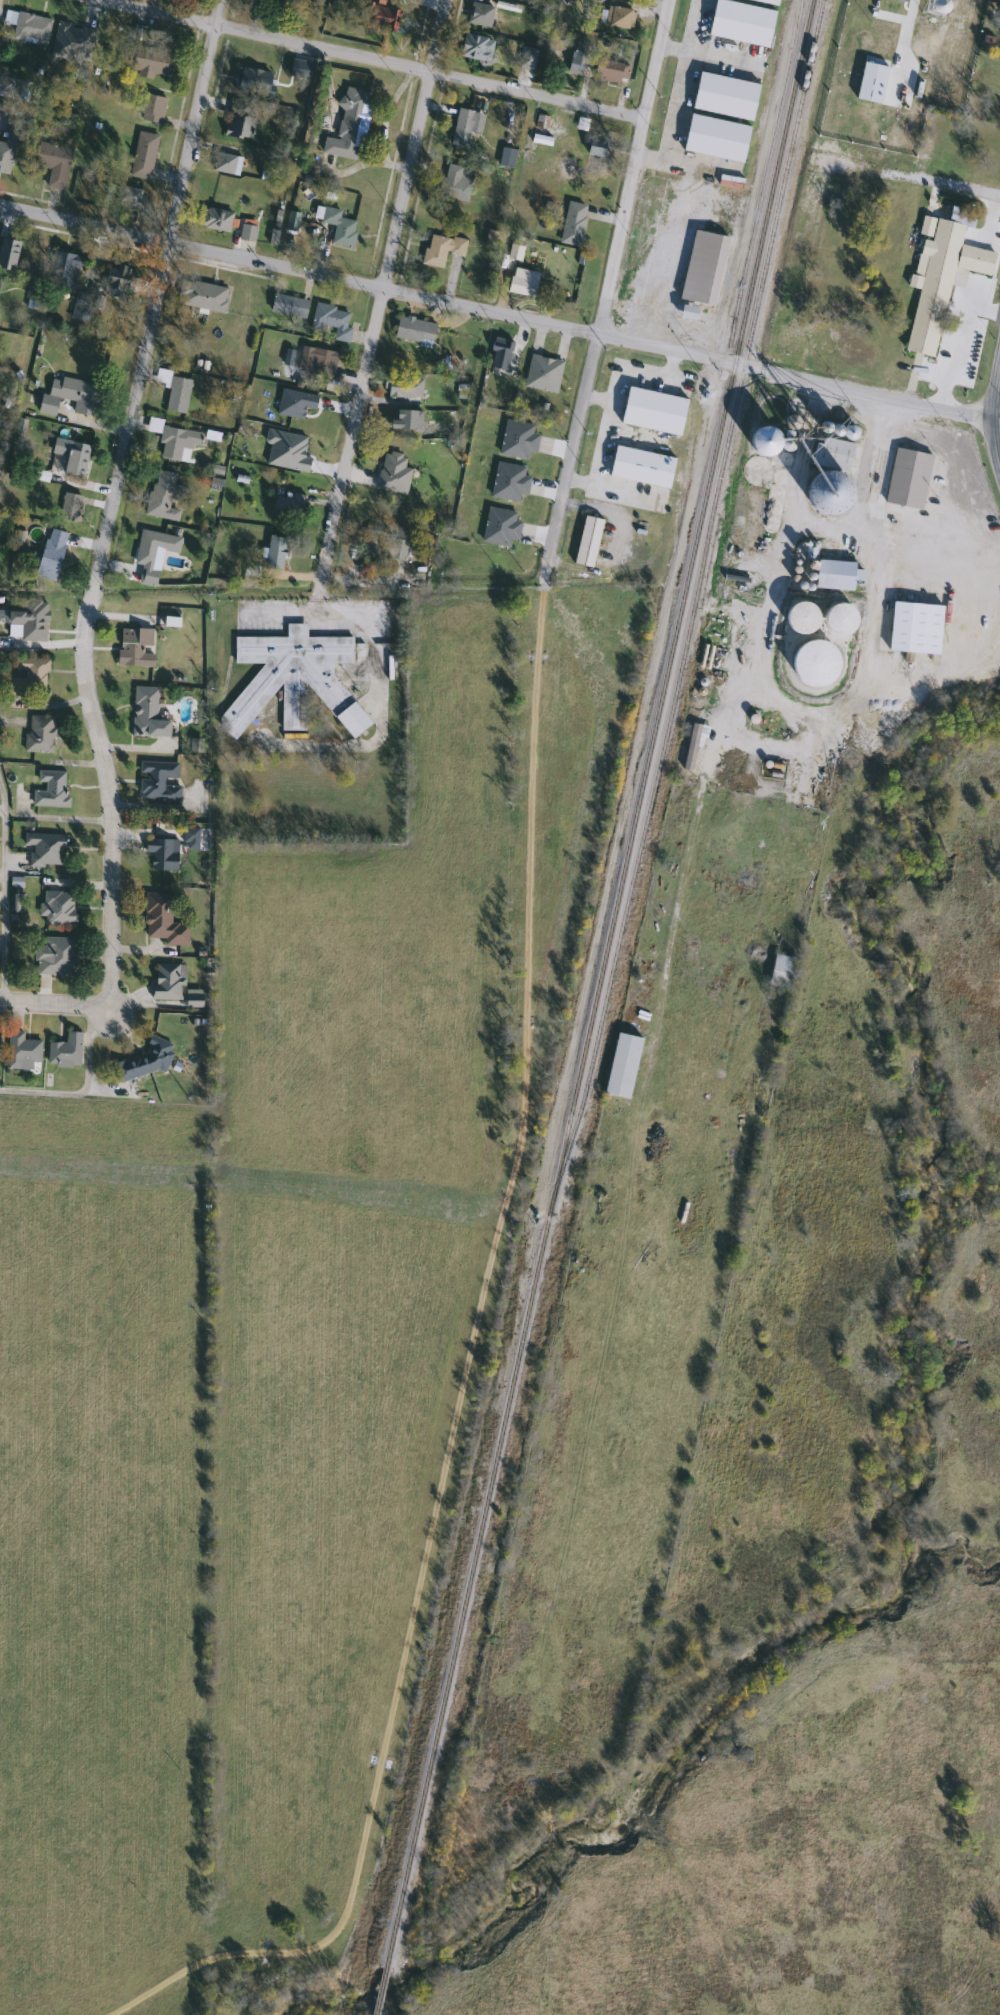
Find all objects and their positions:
building: (765, 2)
building: (377, 15)
building: (479, 16)
building: (617, 17)
building: (740, 23)
road: (696, 25)
building: (28, 27)
building: (960, 36)
building: (72, 41)
building: (860, 42)
building: (892, 47)
building: (475, 48)
building: (579, 55)
building: (527, 59)
road: (371, 60)
building: (154, 65)
building: (252, 81)
building: (871, 83)
building: (14, 89)
building: (724, 96)
road: (679, 107)
building: (151, 109)
building: (239, 120)
building: (347, 126)
building: (461, 129)
building: (716, 138)
building: (965, 146)
building: (7, 148)
building: (142, 152)
building: (925, 152)
building: (595, 154)
building: (226, 161)
building: (53, 164)
road: (911, 178)
building: (454, 184)
building: (128, 198)
building: (215, 220)
building: (291, 221)
building: (572, 224)
building: (337, 227)
building: (247, 233)
building: (441, 249)
building: (8, 253)
building: (703, 268)
building: (63, 271)
building: (942, 274)
building: (118, 281)
building: (522, 283)
road: (367, 285)
railway: (740, 291)
railway: (749, 292)
road: (380, 294)
building: (203, 296)
road: (968, 303)
road: (603, 305)
building: (288, 306)
building: (687, 313)
building: (331, 321)
building: (414, 330)
building: (500, 358)
building: (316, 362)
building: (543, 374)
building: (402, 387)
road: (867, 393)
building: (177, 395)
building: (71, 397)
building: (653, 411)
road: (992, 417)
building: (391, 420)
building: (762, 438)
building: (518, 439)
building: (175, 441)
building: (71, 456)
building: (641, 466)
building: (392, 473)
building: (829, 473)
road: (959, 473)
building: (907, 477)
building: (509, 482)
building: (161, 496)
road: (112, 501)
building: (288, 507)
building: (69, 508)
building: (500, 526)
building: (587, 541)
building: (384, 546)
building: (152, 547)
building: (51, 552)
building: (274, 552)
building: (836, 575)
road: (318, 601)
railway: (692, 605)
road: (316, 612)
building: (801, 617)
building: (839, 618)
building: (26, 625)
building: (914, 627)
building: (134, 647)
building: (814, 662)
building: (28, 677)
building: (292, 680)
building: (147, 713)
building: (39, 734)
building: (691, 747)
building: (158, 781)
building: (50, 789)
building: (44, 849)
building: (162, 854)
road: (4, 890)
building: (58, 908)
building: (163, 920)
building: (54, 957)
building: (783, 963)
building: (167, 982)
road: (53, 1005)
building: (21, 1051)
building: (64, 1051)
building: (144, 1062)
building: (621, 1065)
road: (79, 1087)
railway: (529, 1299)
road: (461, 1399)

